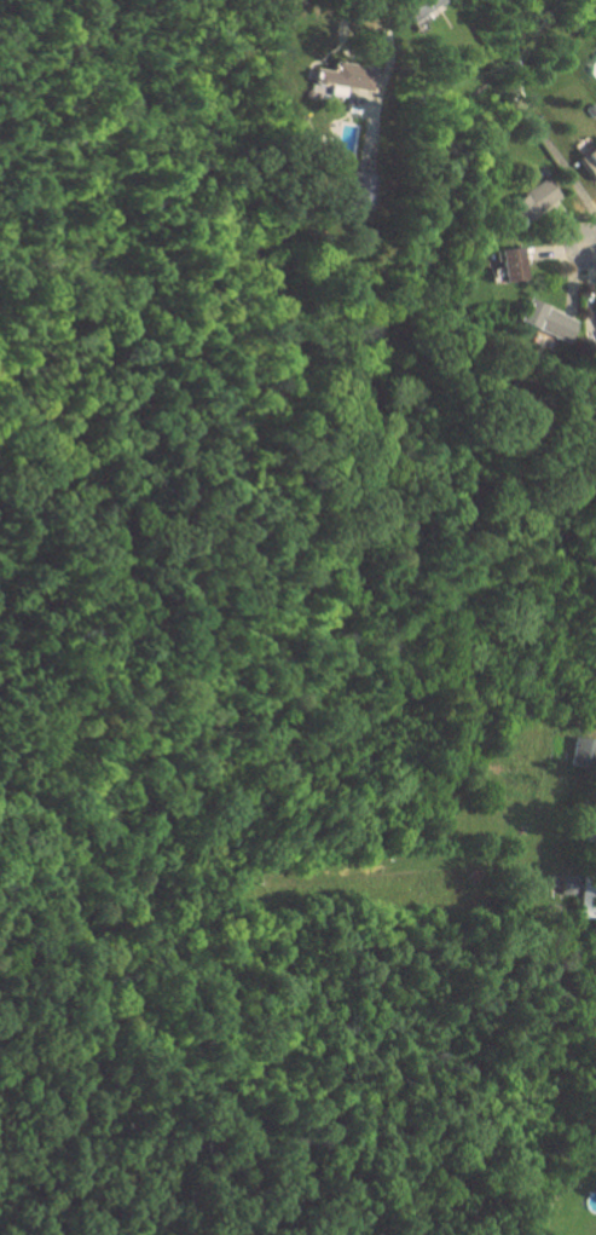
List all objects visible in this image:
building: (421, 7)
road: (387, 48)
building: (345, 76)
building: (341, 135)
building: (590, 161)
building: (361, 189)
building: (536, 198)
road: (555, 243)
road: (590, 243)
building: (514, 264)
building: (594, 299)
building: (548, 319)
building: (584, 750)

